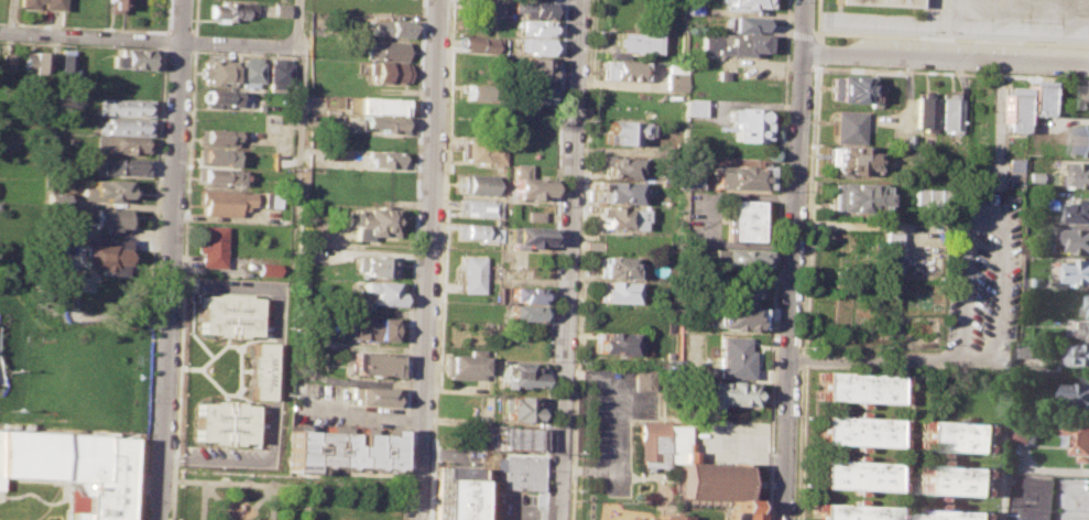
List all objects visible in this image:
building: (884, 2)
building: (742, 3)
building: (48, 6)
building: (110, 6)
building: (486, 7)
building: (533, 8)
building: (690, 8)
building: (231, 9)
road: (10, 15)
road: (165, 17)
road: (193, 17)
road: (814, 19)
road: (298, 22)
building: (743, 22)
road: (83, 24)
building: (536, 26)
building: (392, 28)
road: (166, 29)
road: (178, 29)
road: (190, 31)
road: (785, 31)
road: (951, 36)
road: (812, 37)
road: (148, 39)
road: (163, 40)
road: (192, 40)
road: (81, 42)
building: (633, 42)
building: (480, 43)
building: (728, 43)
building: (534, 45)
building: (386, 50)
building: (131, 57)
road: (945, 57)
building: (6, 63)
building: (32, 65)
building: (64, 67)
building: (532, 68)
building: (625, 69)
building: (215, 71)
building: (250, 72)
building: (279, 72)
building: (389, 72)
building: (720, 73)
road: (950, 73)
building: (674, 76)
building: (847, 88)
building: (480, 91)
building: (531, 91)
building: (1088, 96)
building: (220, 97)
building: (1036, 97)
building: (241, 99)
building: (375, 105)
building: (123, 106)
building: (693, 106)
building: (1011, 108)
building: (922, 111)
building: (947, 113)
road: (997, 119)
building: (382, 123)
building: (744, 123)
building: (843, 124)
building: (124, 126)
building: (627, 130)
building: (216, 137)
building: (1082, 139)
building: (904, 140)
building: (120, 144)
building: (480, 150)
building: (214, 155)
building: (384, 158)
road: (296, 159)
building: (847, 160)
building: (121, 164)
building: (622, 165)
building: (1011, 170)
building: (687, 172)
building: (1083, 173)
building: (739, 175)
building: (219, 176)
building: (477, 183)
building: (529, 183)
building: (105, 188)
building: (620, 192)
building: (854, 195)
building: (266, 198)
building: (929, 198)
building: (224, 201)
building: (479, 207)
road: (980, 209)
building: (1081, 210)
building: (886, 214)
building: (533, 215)
parking lot: (701, 216)
building: (625, 217)
road: (706, 217)
building: (107, 218)
building: (740, 218)
building: (372, 221)
building: (478, 230)
building: (525, 236)
building: (1079, 240)
road: (413, 245)
building: (210, 246)
building: (889, 250)
building: (100, 251)
building: (736, 258)
road: (172, 260)
road: (428, 260)
road: (439, 260)
road: (554, 260)
road: (570, 260)
road: (582, 260)
road: (774, 260)
road: (794, 260)
road: (182, 263)
building: (374, 266)
building: (621, 267)
building: (265, 269)
building: (1077, 271)
building: (470, 273)
parking lot: (982, 275)
road: (152, 283)
building: (731, 288)
building: (383, 291)
building: (614, 291)
road: (803, 291)
building: (59, 292)
building: (529, 293)
building: (226, 303)
building: (1088, 306)
parking lot: (270, 311)
building: (524, 312)
building: (733, 315)
road: (279, 321)
building: (225, 324)
building: (1083, 327)
building: (373, 328)
building: (620, 342)
building: (1077, 351)
building: (1026, 353)
building: (733, 357)
road: (890, 357)
building: (373, 361)
building: (465, 364)
building: (257, 370)
building: (520, 373)
building: (646, 378)
building: (857, 386)
building: (1080, 390)
building: (722, 392)
building: (372, 396)
building: (523, 408)
parking lot: (338, 409)
building: (220, 410)
road: (363, 413)
road: (609, 420)
parking lot: (614, 423)
building: (856, 430)
building: (219, 431)
parking lot: (264, 431)
building: (1024, 432)
building: (961, 435)
building: (518, 436)
building: (1080, 436)
parking lot: (726, 441)
road: (749, 442)
building: (338, 447)
road: (215, 461)
building: (73, 466)
building: (689, 466)
building: (520, 470)
building: (853, 474)
building: (960, 479)
road: (284, 484)
road: (213, 492)
building: (453, 494)
road: (260, 495)
park: (283, 496)
building: (1033, 496)
road: (202, 500)
road: (269, 501)
road: (305, 502)
road: (1077, 505)
building: (851, 511)
building: (958, 513)
building: (668, 517)

